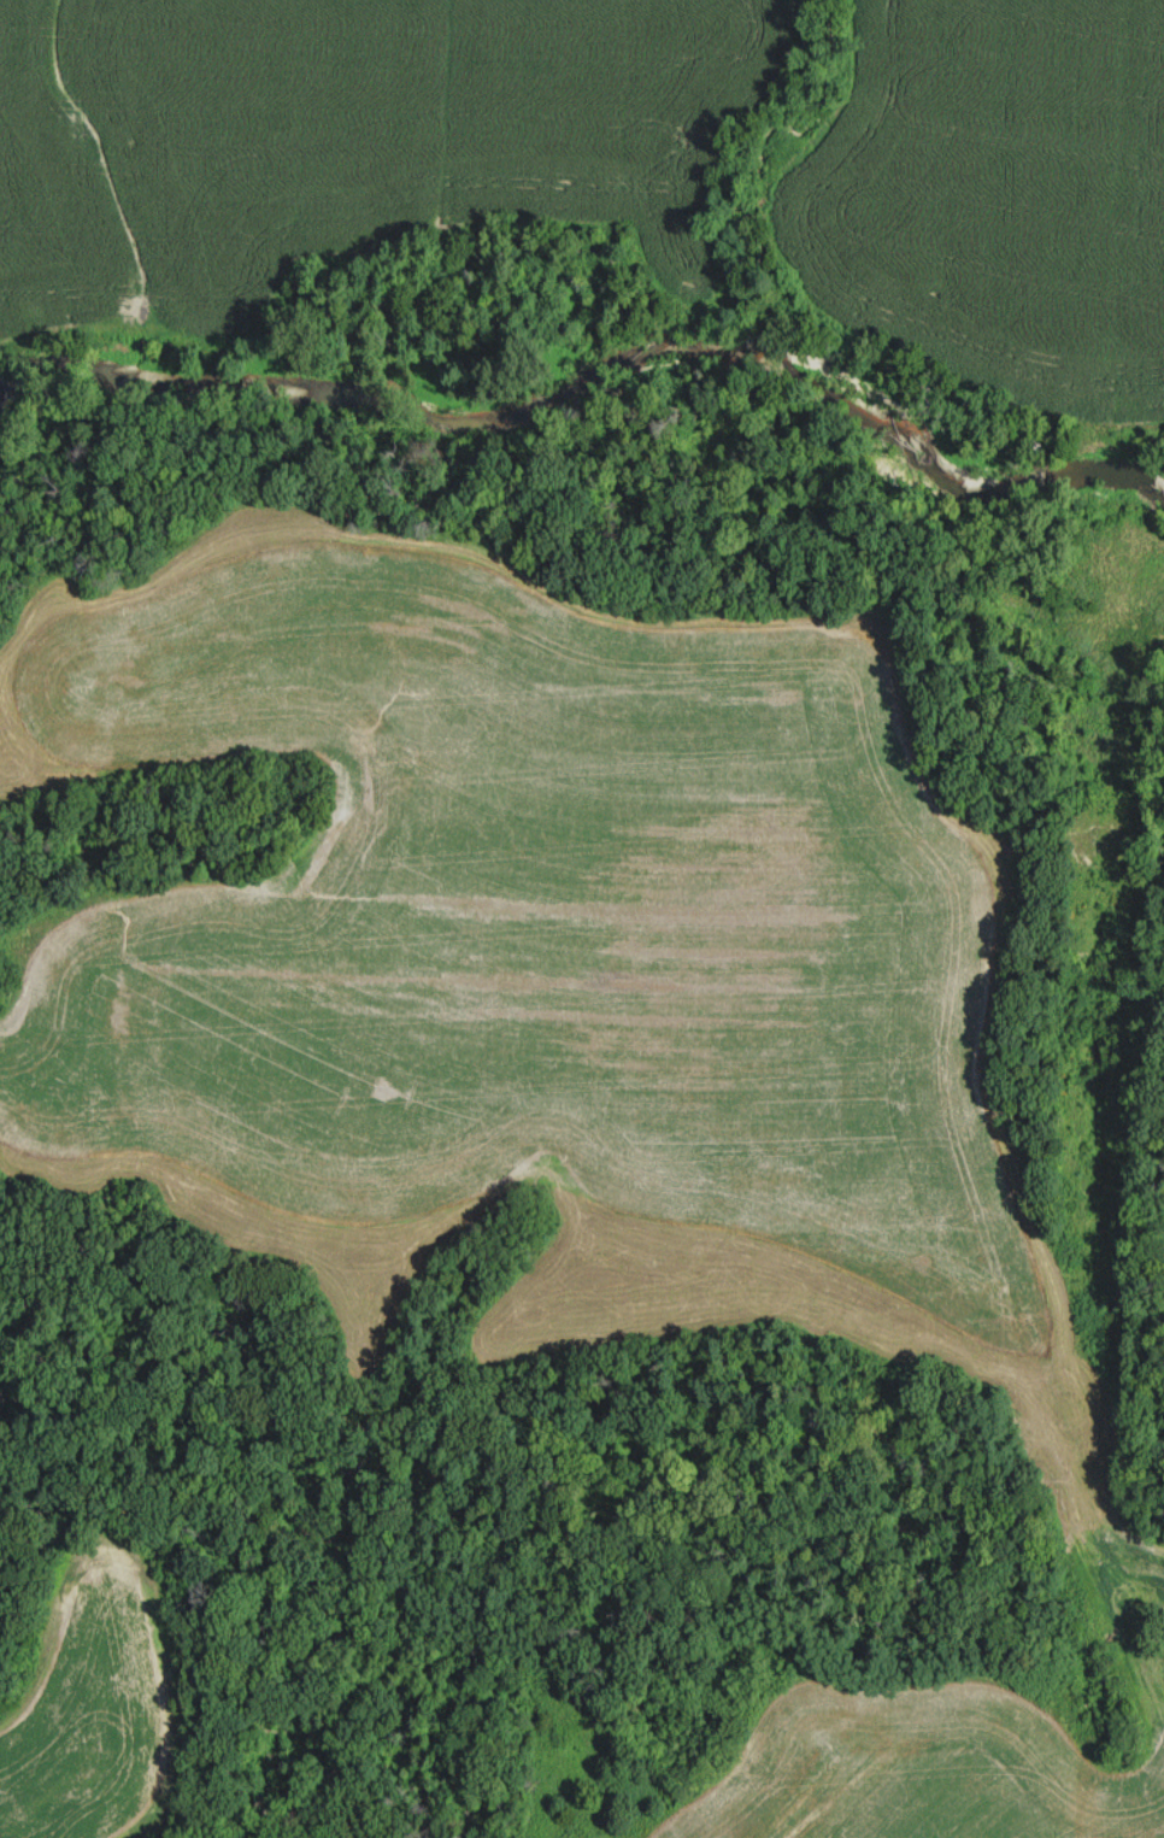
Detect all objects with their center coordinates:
crop: (89, 1697)

